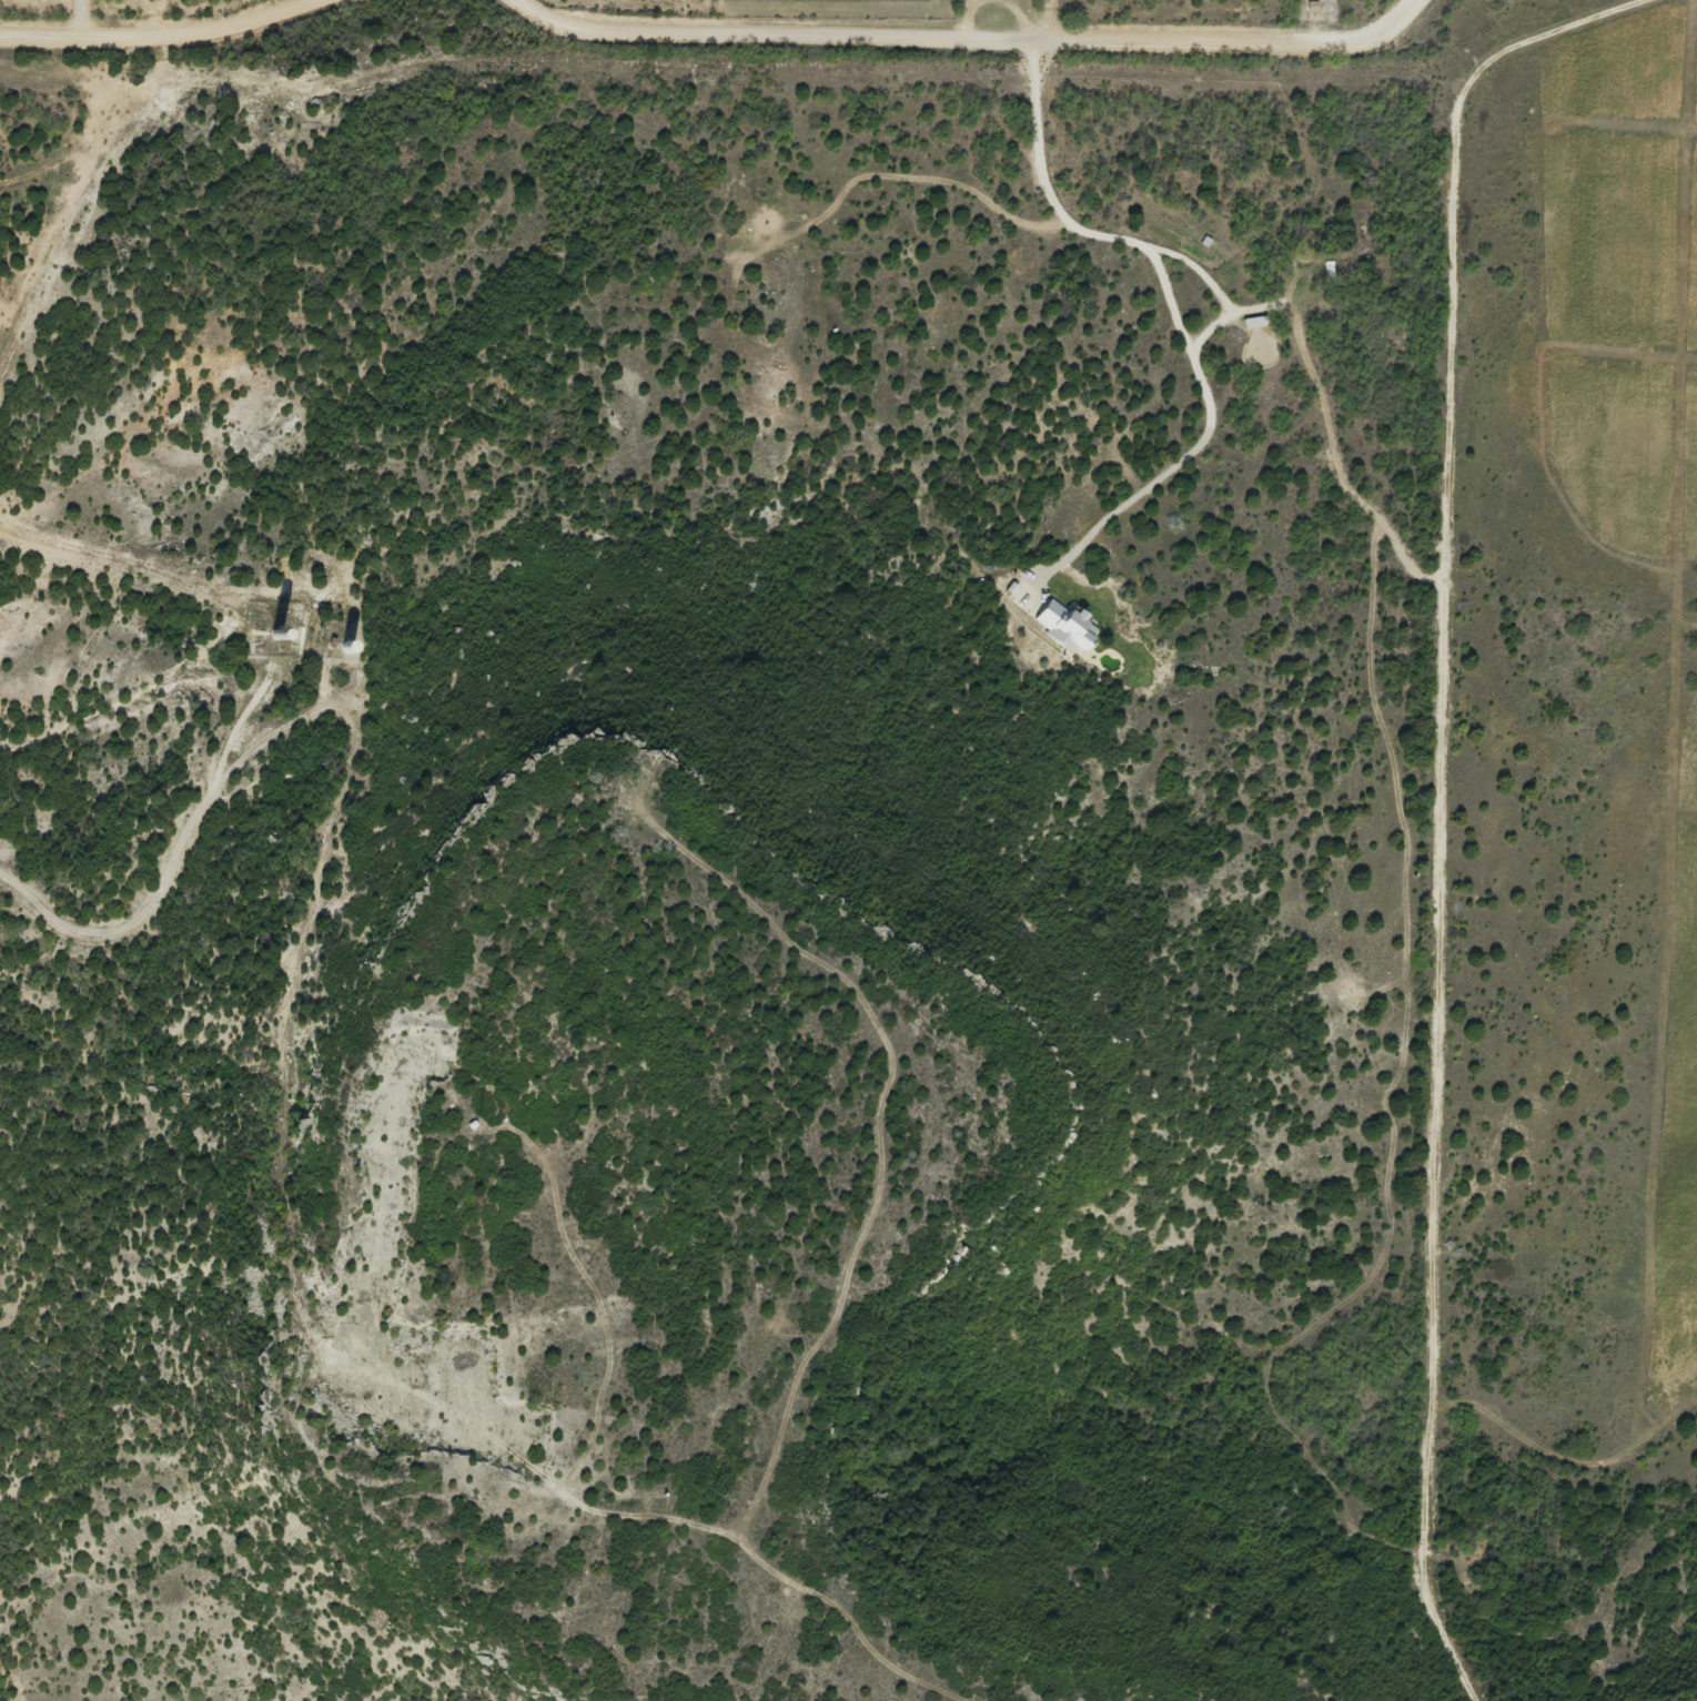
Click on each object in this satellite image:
road: (1415, 8)
road: (715, 34)
building: (1272, 277)
building: (1049, 616)
road: (1378, 965)
road: (289, 1237)

